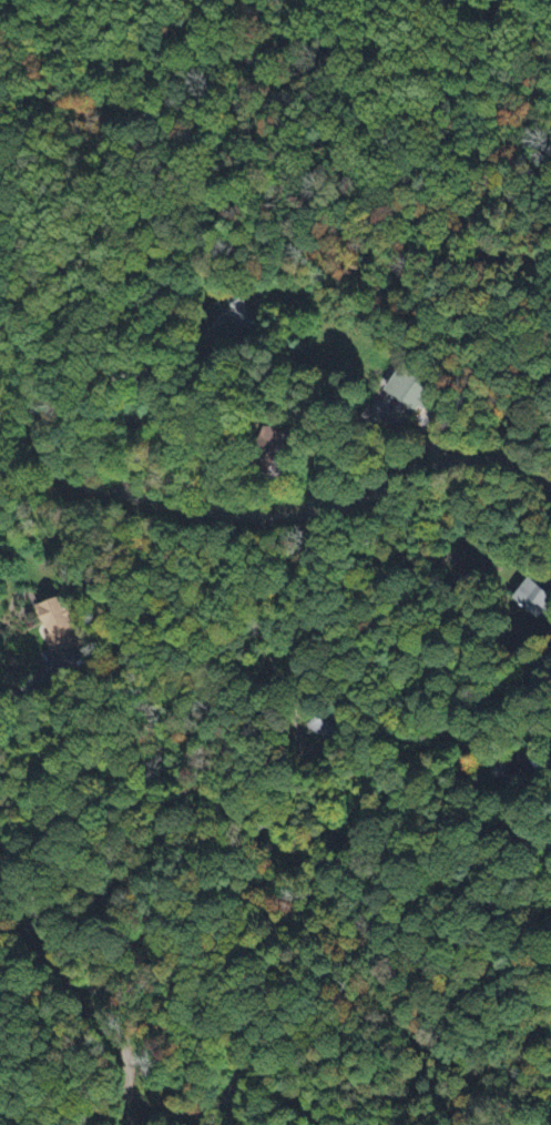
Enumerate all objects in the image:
road: (263, 104)
road: (220, 186)
building: (410, 388)
road: (162, 406)
road: (13, 429)
road: (286, 514)
building: (61, 626)
road: (518, 679)
road: (33, 681)
road: (1, 810)
road: (74, 967)
road: (232, 1084)

